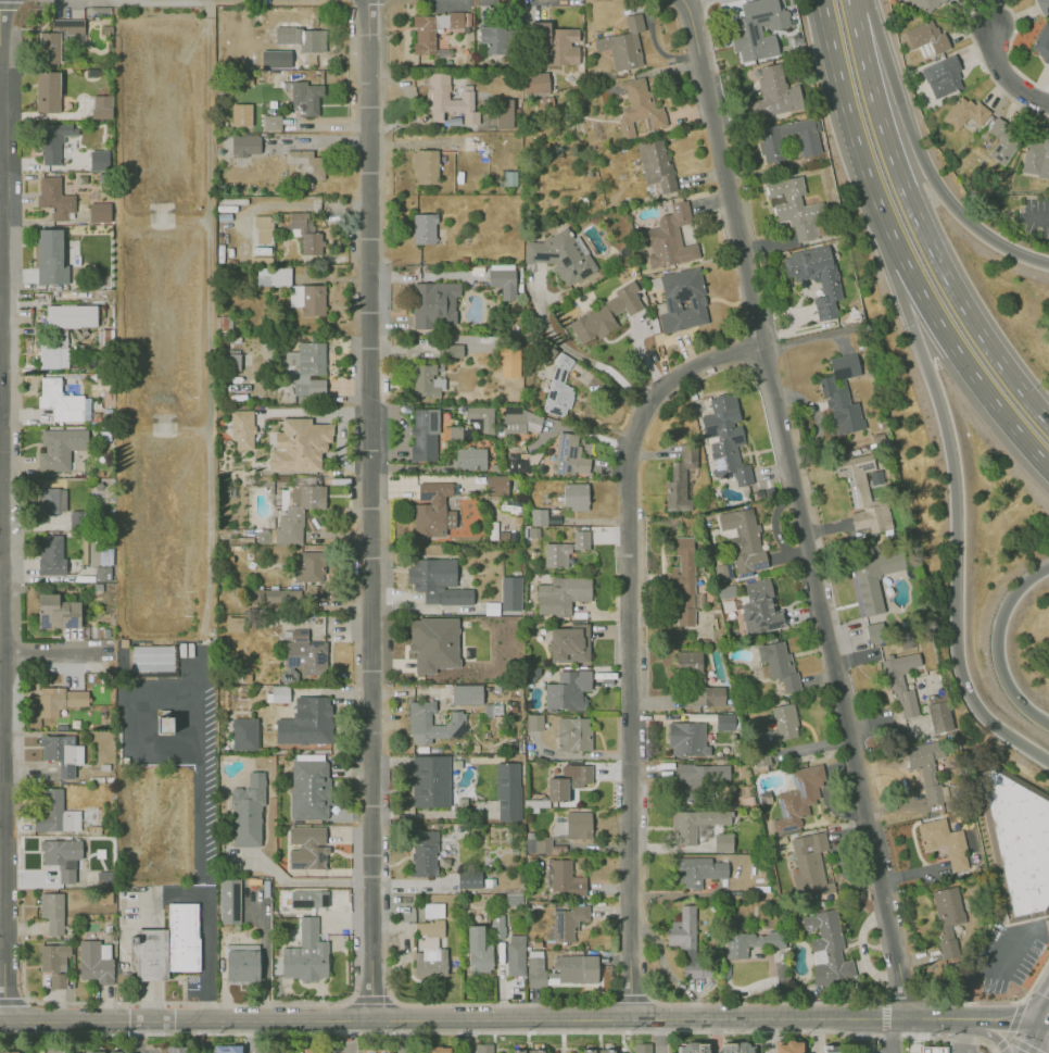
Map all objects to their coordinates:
road: (683, 0)
building: (927, 4)
road: (9, 5)
building: (1042, 5)
building: (756, 28)
building: (431, 29)
building: (299, 37)
building: (56, 38)
building: (928, 38)
building: (494, 39)
building: (1044, 43)
building: (622, 45)
building: (563, 46)
building: (275, 58)
road: (1002, 72)
building: (943, 75)
road: (890, 79)
building: (535, 80)
building: (47, 91)
building: (773, 93)
building: (304, 97)
building: (444, 98)
building: (100, 105)
building: (639, 105)
building: (505, 113)
building: (240, 114)
building: (966, 114)
building: (254, 115)
building: (271, 123)
road: (850, 126)
building: (1001, 139)
building: (53, 141)
building: (244, 145)
building: (770, 145)
building: (99, 160)
building: (1038, 160)
building: (305, 162)
building: (655, 164)
building: (425, 165)
building: (54, 198)
building: (794, 206)
building: (99, 212)
road: (1045, 222)
road: (920, 225)
road: (974, 226)
building: (424, 228)
building: (301, 230)
building: (668, 238)
building: (561, 255)
building: (50, 258)
building: (273, 276)
road: (413, 277)
building: (502, 279)
building: (829, 288)
building: (307, 298)
building: (681, 300)
building: (434, 303)
building: (605, 314)
building: (62, 330)
road: (807, 339)
building: (450, 350)
road: (581, 355)
building: (509, 359)
road: (964, 363)
road: (9, 367)
building: (307, 368)
building: (426, 380)
building: (558, 388)
building: (841, 394)
building: (59, 400)
road: (313, 411)
building: (481, 416)
building: (518, 419)
building: (241, 428)
building: (424, 434)
building: (459, 435)
building: (724, 438)
building: (296, 444)
building: (60, 448)
road: (340, 449)
building: (571, 454)
building: (469, 457)
building: (518, 463)
building: (872, 478)
building: (679, 481)
building: (496, 486)
building: (862, 493)
building: (574, 496)
building: (52, 503)
road: (801, 506)
building: (432, 510)
building: (295, 511)
road: (368, 511)
building: (538, 516)
road: (957, 519)
building: (741, 538)
building: (581, 539)
building: (52, 554)
building: (556, 554)
building: (308, 566)
building: (722, 572)
building: (437, 580)
building: (682, 581)
building: (723, 591)
building: (873, 591)
building: (510, 592)
building: (560, 594)
building: (274, 596)
building: (759, 607)
building: (56, 612)
building: (236, 624)
building: (433, 642)
building: (568, 643)
road: (996, 644)
road: (633, 648)
road: (56, 652)
building: (302, 654)
building: (151, 657)
building: (687, 663)
building: (778, 663)
building: (900, 680)
building: (567, 690)
building: (278, 692)
building: (466, 693)
building: (709, 695)
building: (58, 700)
building: (939, 716)
building: (419, 717)
building: (305, 720)
building: (534, 722)
building: (779, 725)
building: (243, 732)
building: (573, 734)
building: (686, 739)
building: (62, 753)
building: (308, 756)
building: (759, 757)
building: (924, 768)
building: (703, 774)
building: (430, 780)
building: (568, 781)
building: (308, 789)
building: (507, 791)
building: (247, 810)
building: (55, 813)
building: (578, 824)
building: (693, 824)
road: (199, 836)
building: (1020, 841)
building: (722, 842)
building: (943, 842)
building: (539, 844)
building: (306, 848)
building: (424, 853)
building: (62, 856)
building: (808, 863)
building: (697, 870)
building: (564, 877)
road: (10, 878)
building: (470, 880)
road: (303, 881)
road: (174, 893)
building: (308, 899)
building: (228, 901)
building: (432, 910)
building: (51, 912)
building: (947, 917)
building: (567, 922)
building: (497, 926)
building: (686, 941)
building: (750, 942)
building: (168, 944)
building: (826, 949)
building: (477, 950)
building: (305, 953)
building: (515, 954)
building: (429, 957)
building: (94, 961)
building: (53, 963)
building: (242, 966)
building: (560, 968)
road: (984, 968)
road: (630, 998)
road: (369, 999)
road: (12, 1000)
road: (857, 1002)
road: (275, 1004)
road: (493, 1004)
road: (1015, 1015)
road: (1045, 1015)
road: (885, 1016)
road: (520, 1020)
traffic signals: (1040, 1024)
road: (1045, 1026)
road: (500, 1031)
road: (863, 1035)
road: (889, 1035)
road: (961, 1035)
road: (715, 1036)
road: (993, 1036)
road: (137, 1037)
road: (250, 1037)
road: (351, 1037)
road: (405, 1037)
road: (469, 1037)
road: (662, 1037)
road: (1009, 1037)
road: (1033, 1038)
road: (1012, 1040)
road: (1000, 1045)
building: (789, 1046)
road: (1025, 1046)
building: (227, 1048)
building: (692, 1048)
building: (737, 1048)
building: (484, 1049)
building: (643, 1049)
building: (831, 1049)
building: (934, 1049)
building: (10, 1051)
building: (108, 1051)
building: (430, 1051)
building: (538, 1051)
building: (375, 1052)
building: (518, 1052)
building: (590, 1052)
building: (609, 1052)

